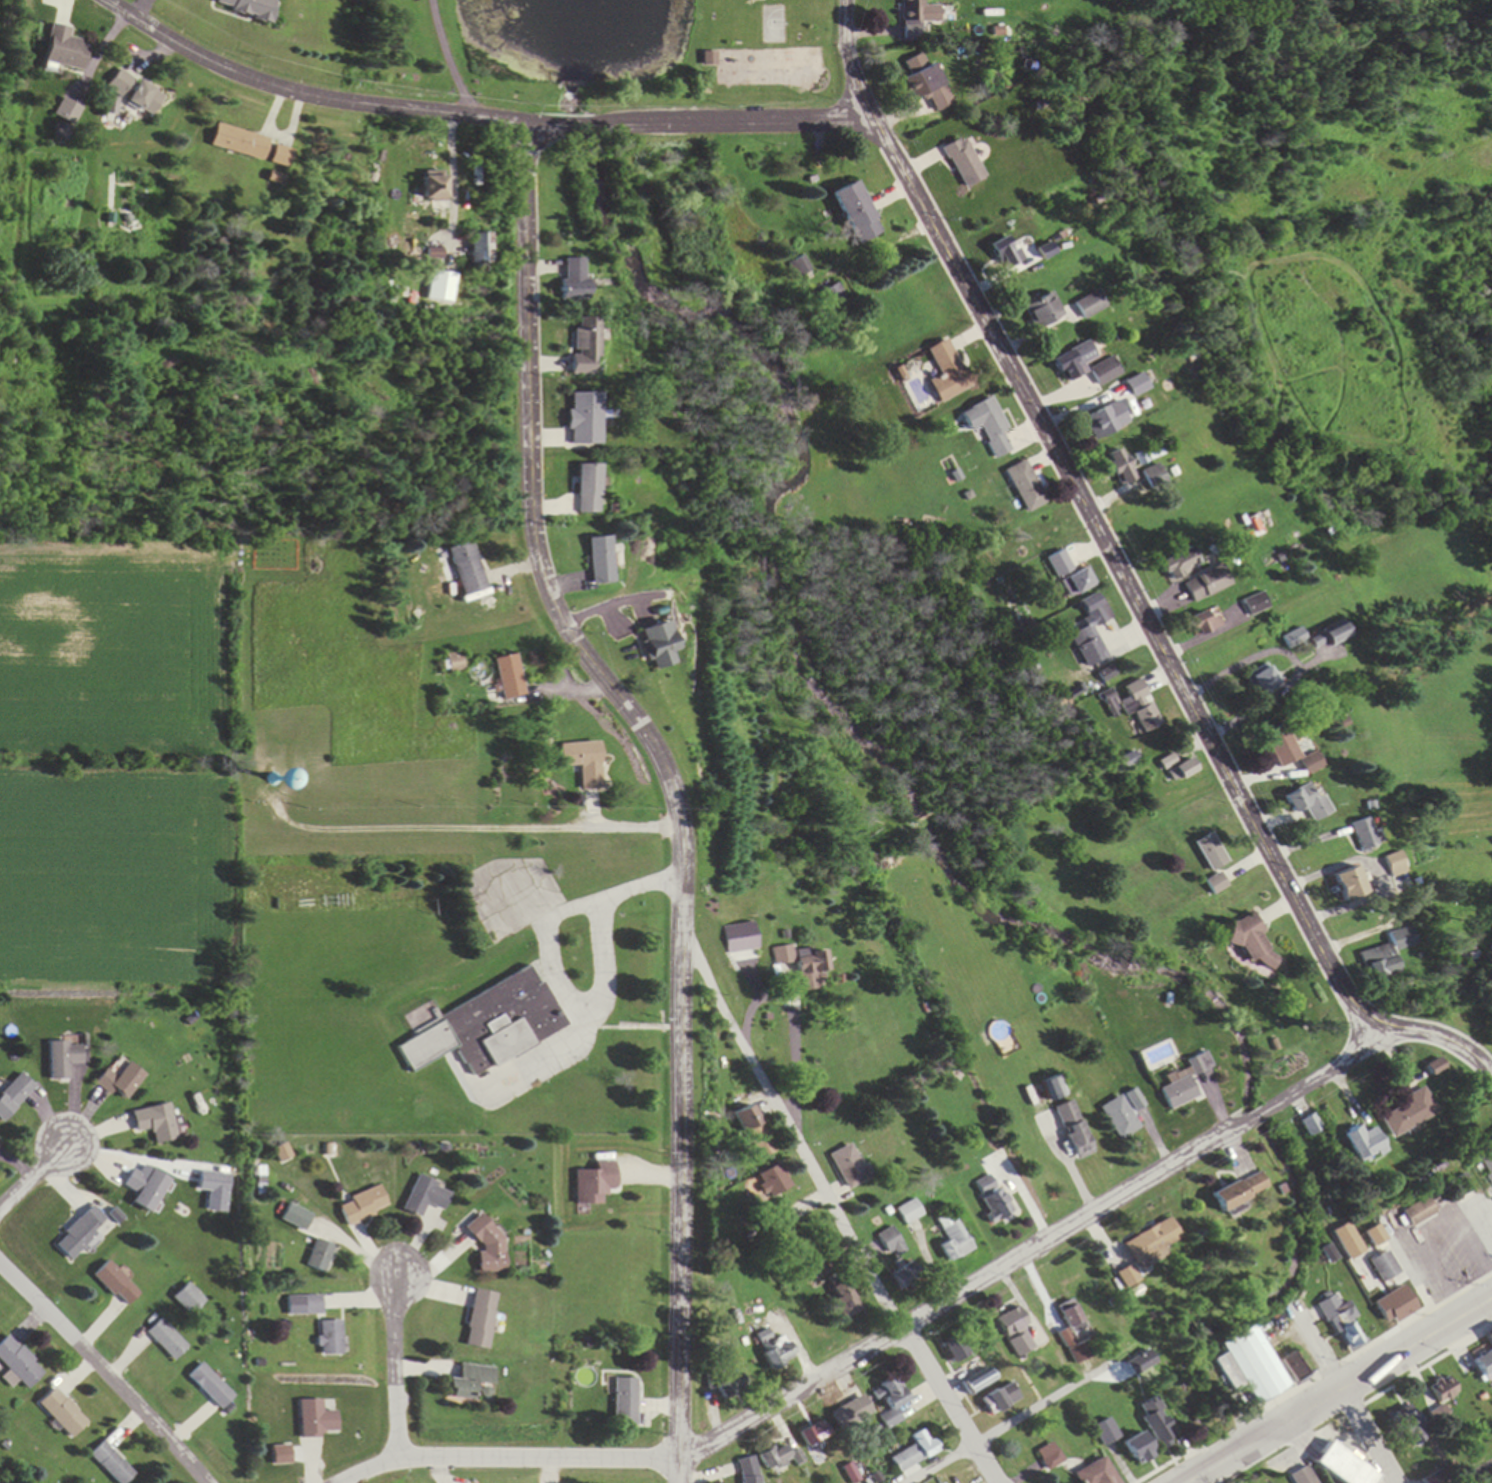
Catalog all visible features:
building: (246, 8)
building: (921, 20)
building: (773, 32)
building: (63, 50)
road: (416, 55)
park: (751, 60)
building: (707, 61)
building: (926, 77)
building: (134, 93)
building: (68, 113)
road: (478, 117)
building: (238, 142)
building: (279, 156)
building: (964, 162)
building: (429, 186)
building: (856, 214)
building: (471, 249)
building: (799, 267)
building: (569, 278)
building: (833, 296)
building: (1092, 305)
building: (1043, 310)
building: (579, 346)
building: (1074, 362)
building: (1106, 371)
building: (947, 372)
building: (1137, 385)
building: (579, 418)
building: (1100, 422)
building: (987, 425)
building: (1119, 467)
building: (1025, 487)
building: (584, 488)
building: (1256, 526)
building: (596, 560)
building: (1059, 564)
building: (1179, 566)
building: (465, 568)
road: (1124, 576)
building: (1077, 582)
building: (1204, 585)
building: (1255, 605)
building: (1206, 622)
building: (1091, 631)
building: (1328, 638)
building: (653, 645)
building: (456, 665)
building: (507, 677)
building: (1263, 682)
building: (1141, 707)
building: (1291, 752)
building: (1169, 762)
building: (580, 763)
building: (1185, 769)
water tower: (265, 776)
building: (265, 780)
road: (670, 784)
building: (1308, 802)
building: (1362, 835)
building: (1212, 852)
building: (1393, 865)
building: (1217, 884)
building: (1350, 884)
building: (726, 940)
building: (1252, 942)
building: (1386, 954)
building: (795, 960)
building: (486, 1028)
building: (63, 1060)
building: (1430, 1067)
building: (120, 1082)
building: (1184, 1082)
building: (1050, 1089)
building: (14, 1096)
building: (1404, 1113)
building: (1118, 1119)
building: (156, 1123)
building: (1313, 1127)
building: (1072, 1131)
building: (751, 1132)
building: (1361, 1143)
building: (283, 1153)
road: (129, 1157)
building: (1486, 1159)
road: (1191, 1163)
building: (845, 1168)
road: (36, 1176)
building: (770, 1182)
building: (214, 1183)
building: (594, 1184)
building: (146, 1189)
building: (1239, 1192)
building: (426, 1198)
building: (989, 1199)
building: (364, 1207)
road: (834, 1213)
building: (906, 1213)
building: (1420, 1213)
building: (780, 1222)
building: (81, 1234)
building: (950, 1238)
building: (1151, 1242)
building: (488, 1245)
building: (889, 1245)
building: (321, 1256)
building: (1384, 1268)
building: (1127, 1278)
building: (117, 1285)
building: (839, 1303)
building: (306, 1305)
building: (1395, 1309)
building: (479, 1320)
building: (1341, 1321)
building: (1013, 1333)
building: (1063, 1336)
building: (1490, 1337)
building: (332, 1338)
road: (889, 1338)
building: (168, 1340)
building: (952, 1349)
building: (773, 1355)
building: (1141, 1363)
building: (17, 1364)
building: (1252, 1364)
building: (1483, 1366)
road: (398, 1367)
building: (1292, 1367)
road: (104, 1371)
building: (468, 1382)
building: (975, 1382)
building: (211, 1386)
building: (1442, 1391)
road: (1340, 1392)
road: (1343, 1395)
building: (997, 1399)
building: (622, 1403)
building: (889, 1404)
building: (852, 1411)
building: (61, 1413)
building: (317, 1420)
road: (1014, 1422)
building: (1154, 1423)
building: (1404, 1425)
building: (814, 1432)
building: (1135, 1449)
building: (913, 1452)
building: (1047, 1457)
building: (773, 1459)
building: (1334, 1460)
building: (111, 1464)
building: (748, 1471)
building: (1093, 1473)
building: (1301, 1476)
road: (1490, 1482)

